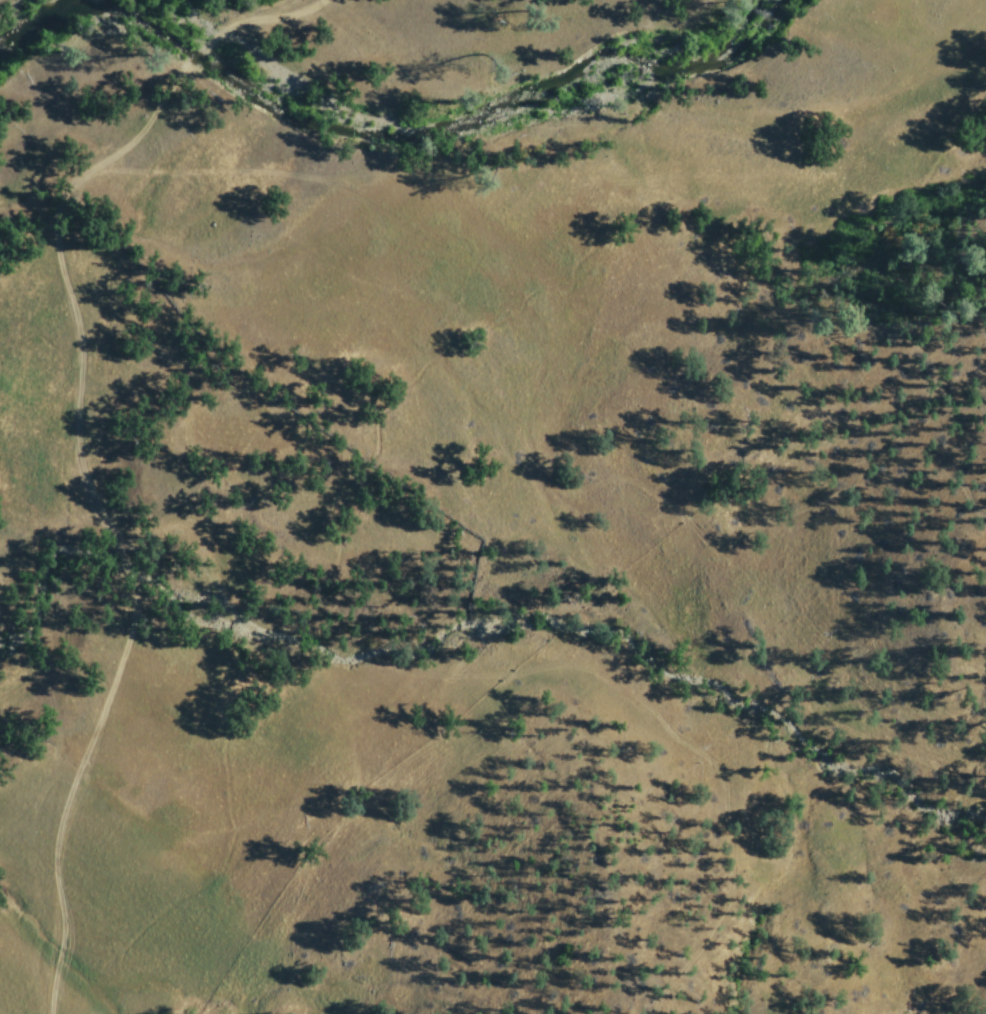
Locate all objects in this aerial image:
river: (44, 25)
road: (81, 445)

